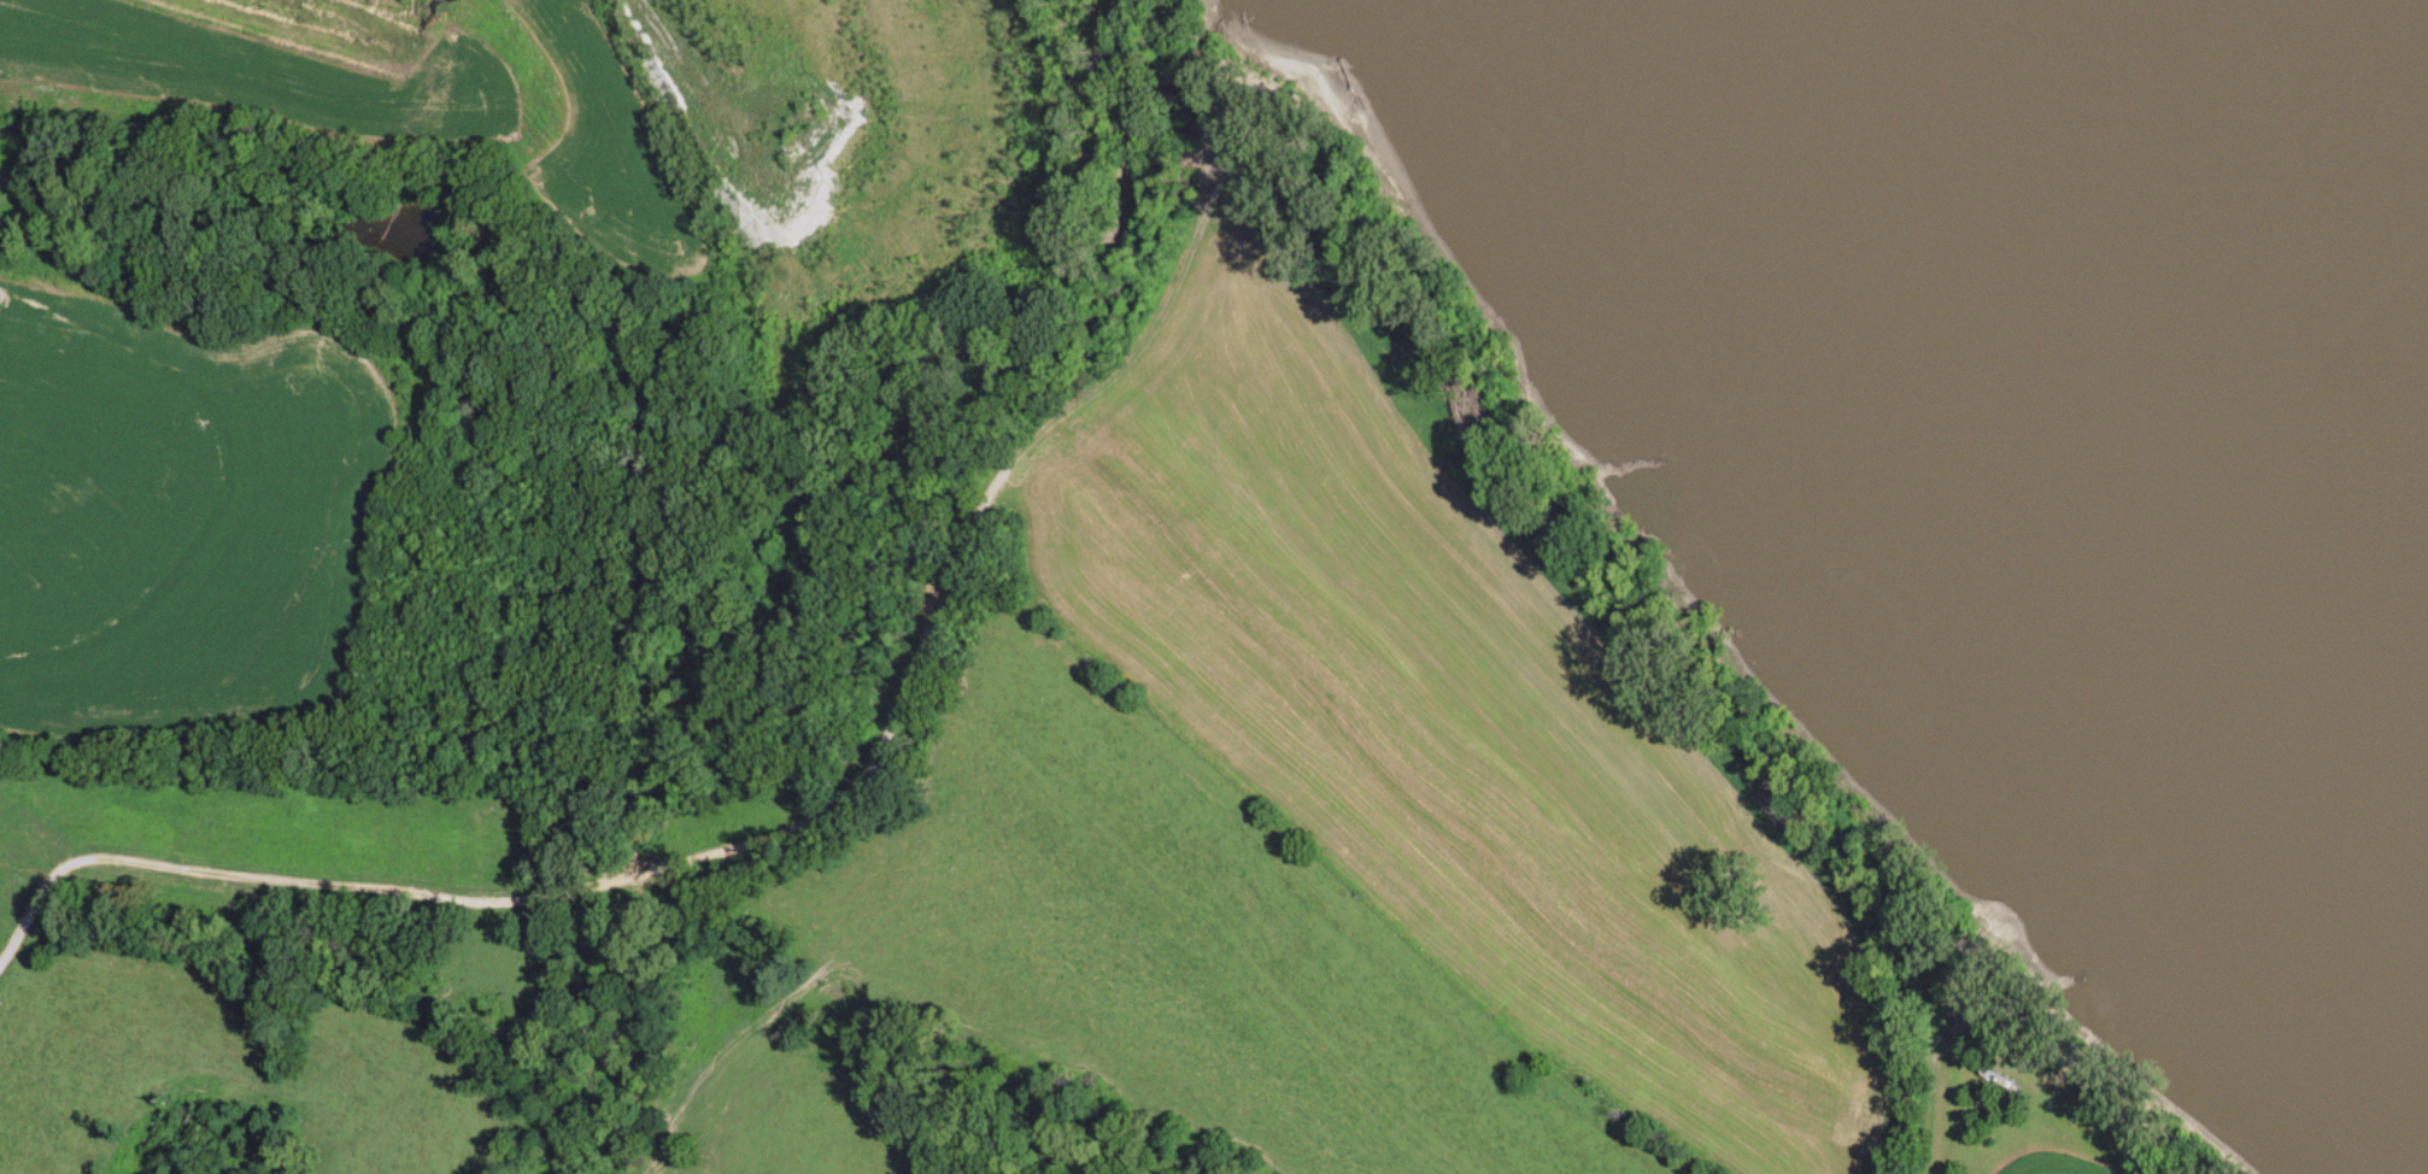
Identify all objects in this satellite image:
river: (2068, 303)
road: (1935, 1085)

